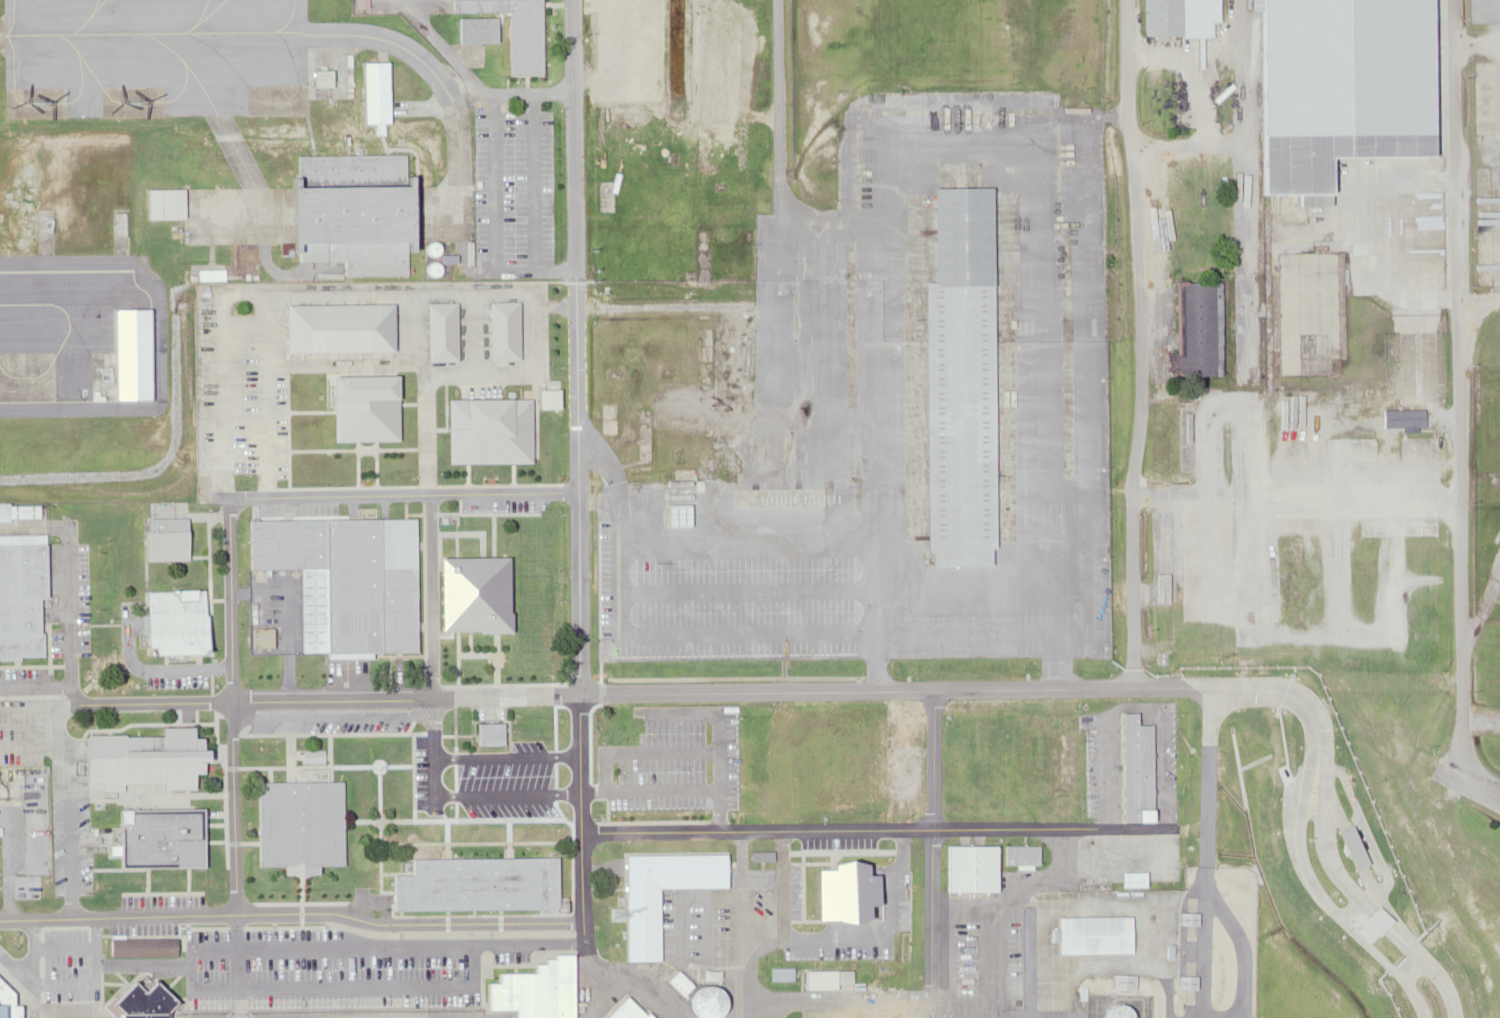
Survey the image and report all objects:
building: (1176, 17)
building: (477, 29)
building: (512, 30)
building: (1336, 88)
building: (371, 94)
road: (778, 141)
road: (1248, 179)
building: (160, 204)
building: (347, 212)
road: (574, 317)
building: (334, 326)
building: (1196, 328)
building: (500, 331)
building: (437, 332)
road: (1142, 341)
building: (118, 362)
building: (954, 380)
road: (1458, 388)
building: (359, 407)
building: (484, 429)
building: (676, 493)
road: (401, 494)
building: (17, 511)
building: (162, 539)
road: (75, 570)
building: (340, 578)
building: (481, 593)
building: (20, 594)
road: (440, 595)
building: (168, 620)
airport: (530, 626)
building: (259, 637)
road: (579, 663)
road: (936, 687)
road: (39, 689)
road: (85, 696)
road: (336, 697)
road: (232, 705)
building: (487, 733)
building: (137, 758)
building: (956, 760)
building: (996, 760)
building: (1131, 768)
road: (1483, 783)
road: (1483, 791)
road: (592, 817)
building: (296, 824)
road: (977, 830)
road: (455, 831)
building: (145, 836)
road: (1341, 864)
building: (968, 868)
road: (1317, 868)
building: (473, 883)
building: (842, 890)
road: (297, 911)
building: (914, 913)
building: (638, 924)
building: (1090, 934)
building: (721, 943)
building: (141, 946)
building: (780, 974)
building: (816, 979)
building: (1120, 981)
road: (634, 985)
building: (530, 991)
building: (136, 1000)
building: (704, 1002)
building: (1112, 1011)

